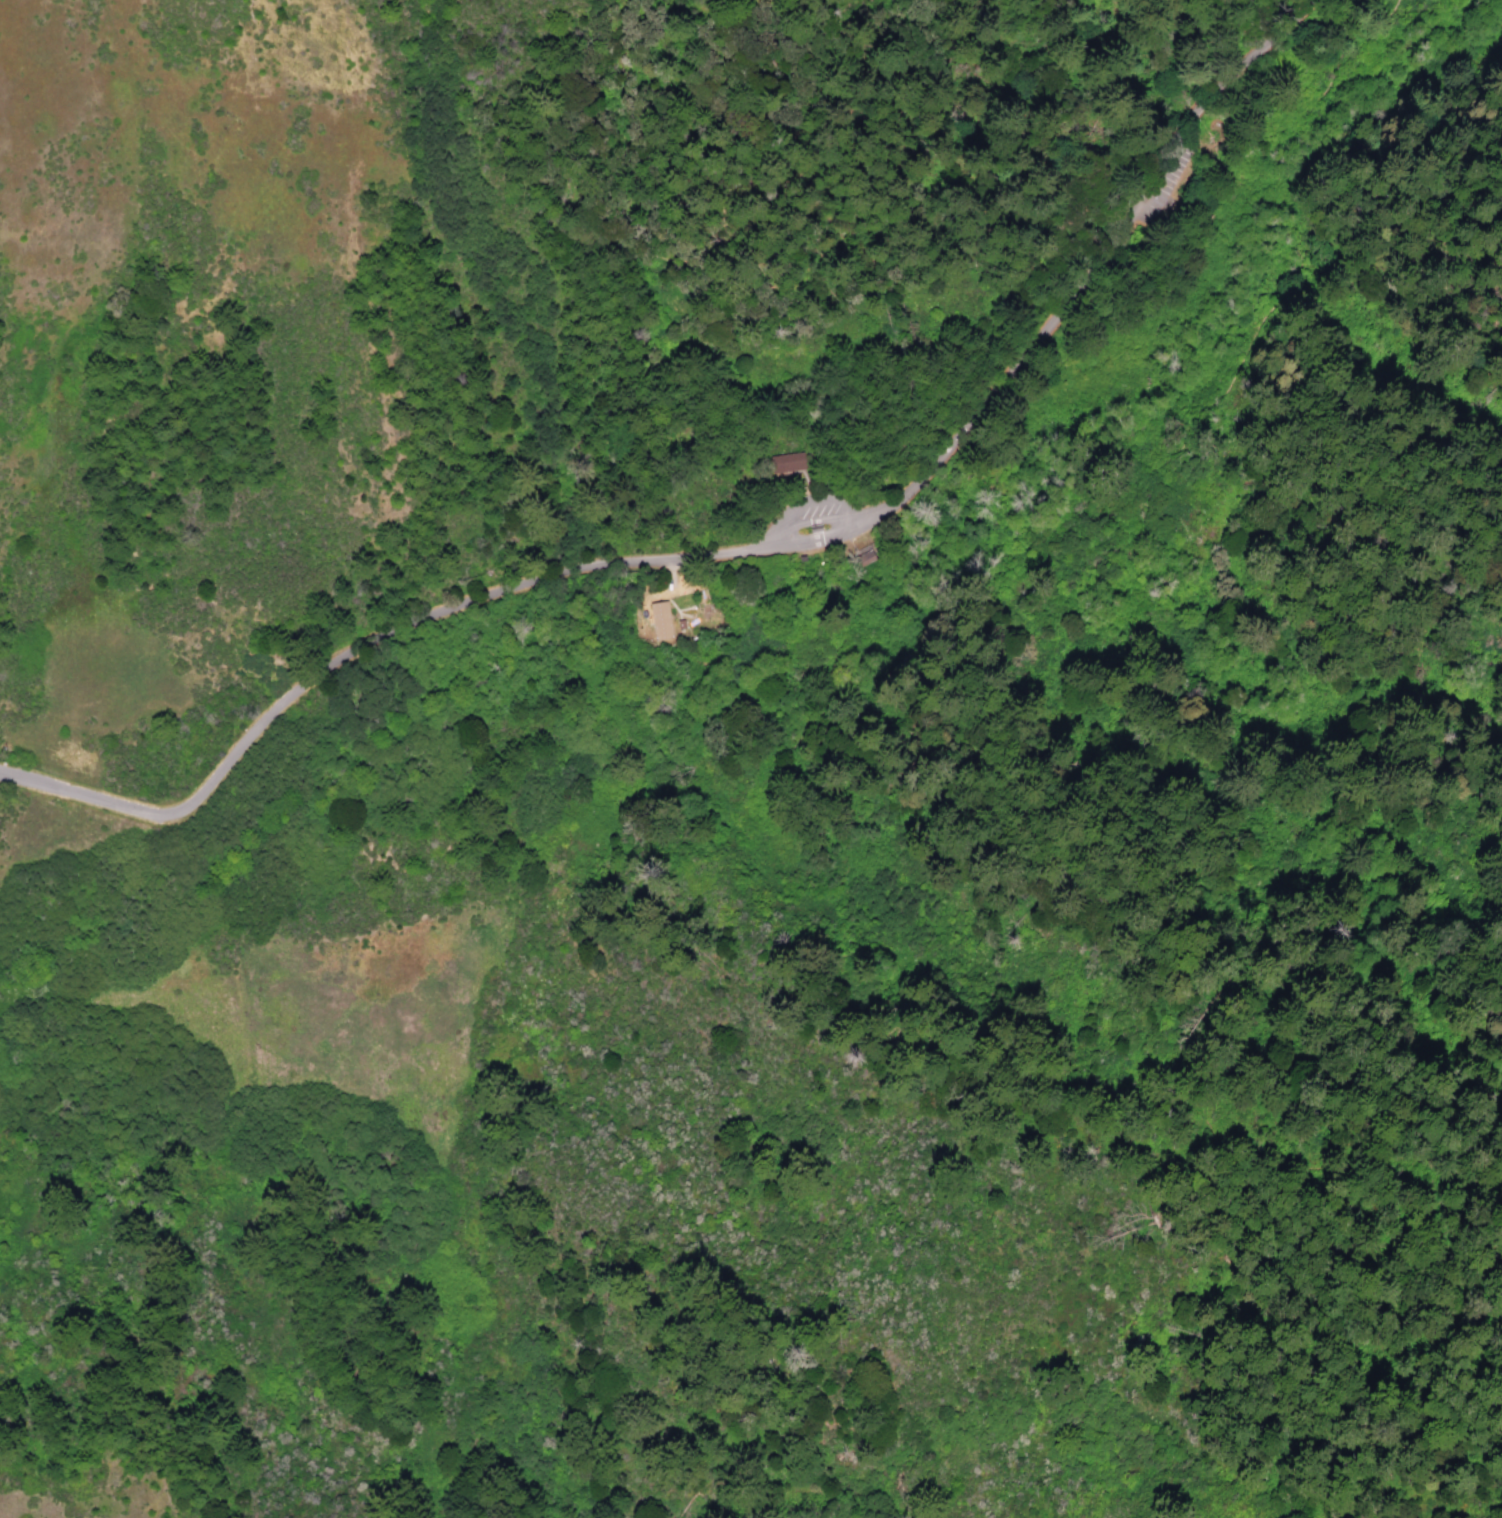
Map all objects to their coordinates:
road: (1231, 142)
parking lot: (1167, 181)
road: (1153, 245)
road: (1104, 254)
road: (629, 268)
road: (1244, 375)
building: (789, 463)
parking lot: (813, 509)
road: (820, 520)
building: (817, 527)
road: (825, 535)
toll booth: (822, 537)
road: (725, 552)
road: (323, 667)
road: (876, 1040)
road: (1171, 1099)

